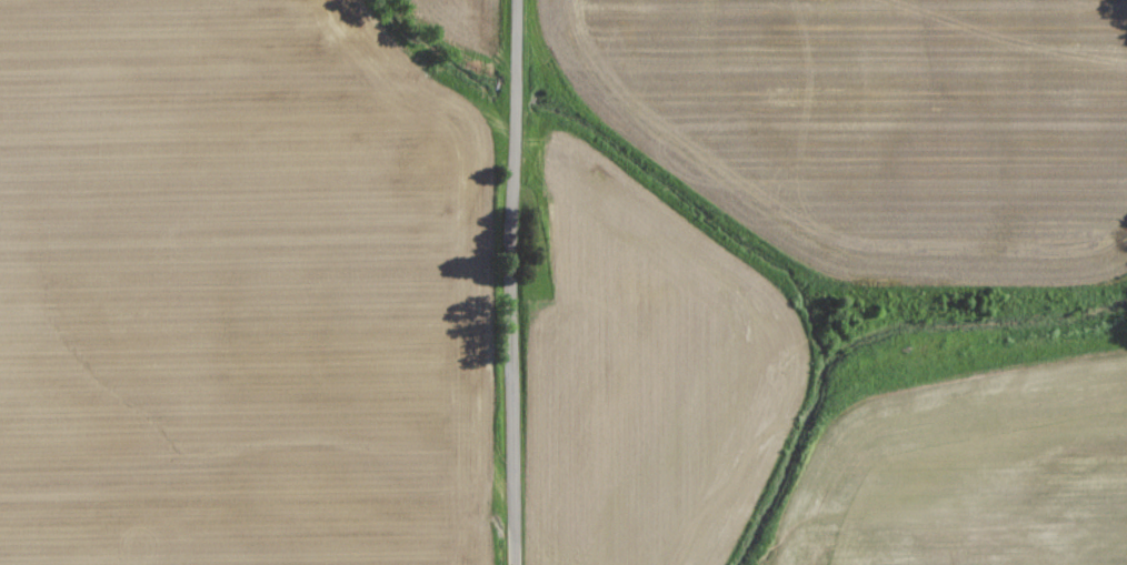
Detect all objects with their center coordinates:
road: (521, 282)

